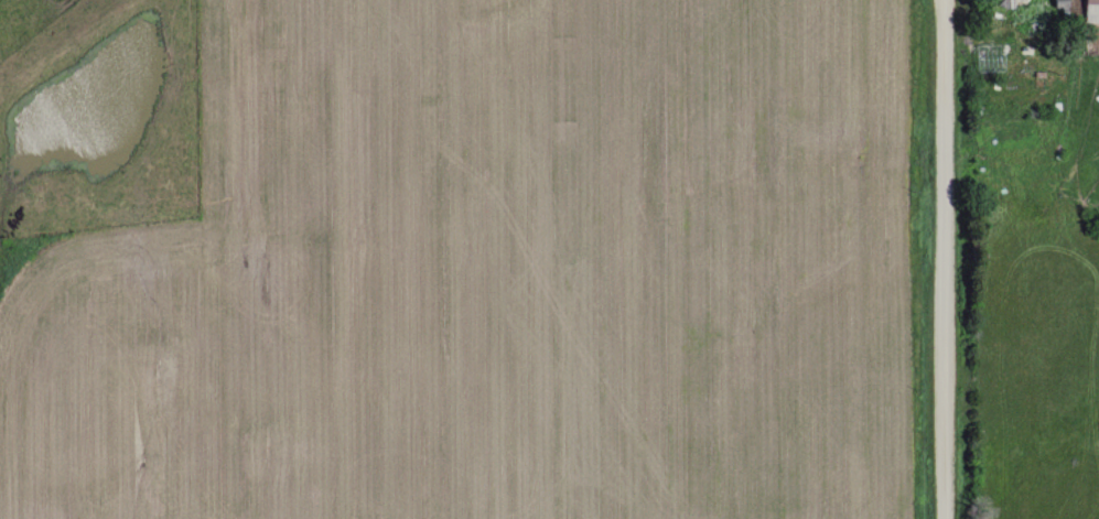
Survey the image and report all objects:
building: (1088, 11)
road: (951, 259)

